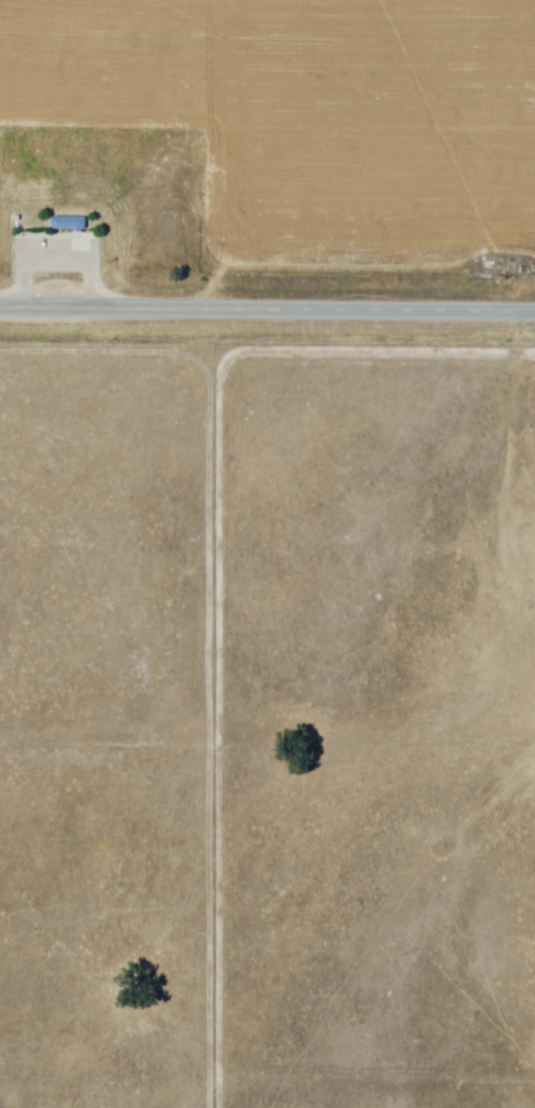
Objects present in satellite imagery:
building: (65, 224)
road: (267, 313)

